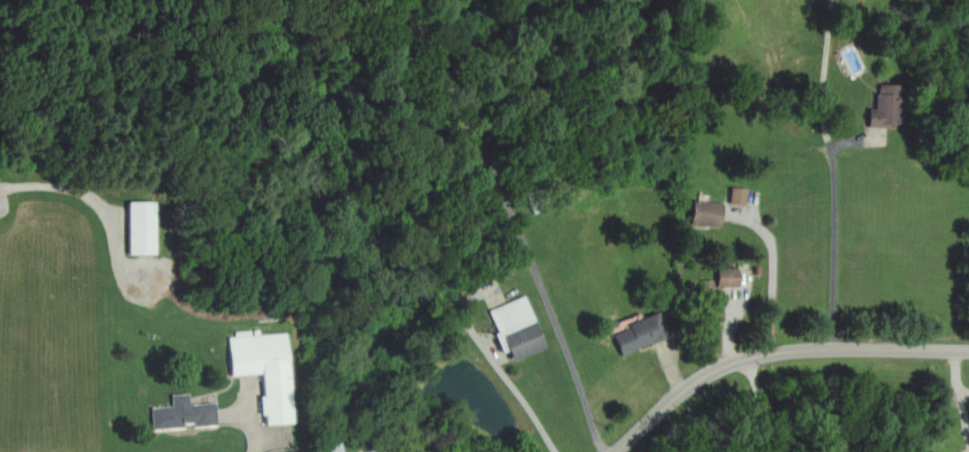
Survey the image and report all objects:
building: (887, 107)
road: (90, 191)
building: (739, 196)
building: (707, 213)
road: (516, 225)
road: (834, 225)
building: (141, 228)
road: (772, 274)
building: (728, 277)
building: (714, 306)
building: (518, 329)
building: (641, 334)
road: (775, 353)
building: (265, 372)
road: (507, 375)
road: (763, 404)
building: (184, 414)
building: (334, 448)
road: (255, 449)

